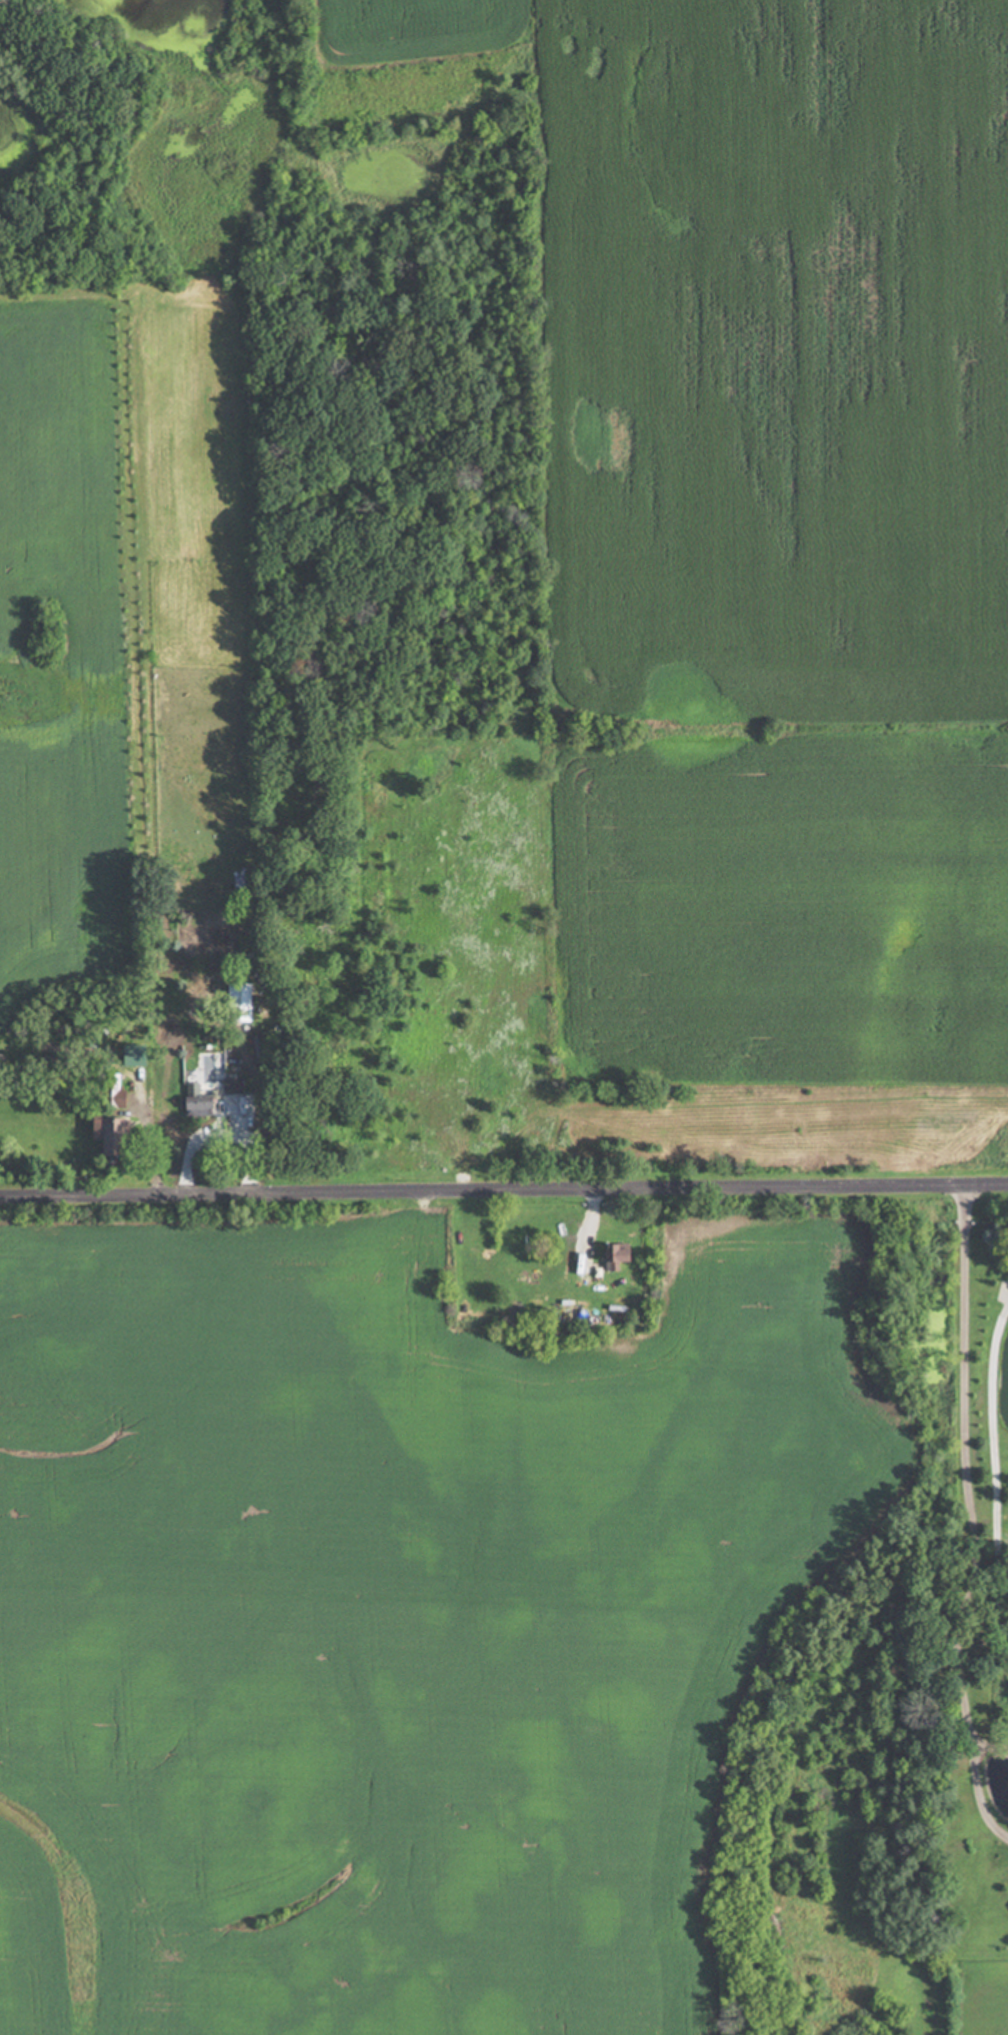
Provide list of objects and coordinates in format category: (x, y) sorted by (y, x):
building: (235, 1002)
building: (229, 1085)
building: (190, 1102)
building: (102, 1136)
road: (504, 1185)
building: (609, 1256)
road: (996, 1445)
road: (970, 1510)

